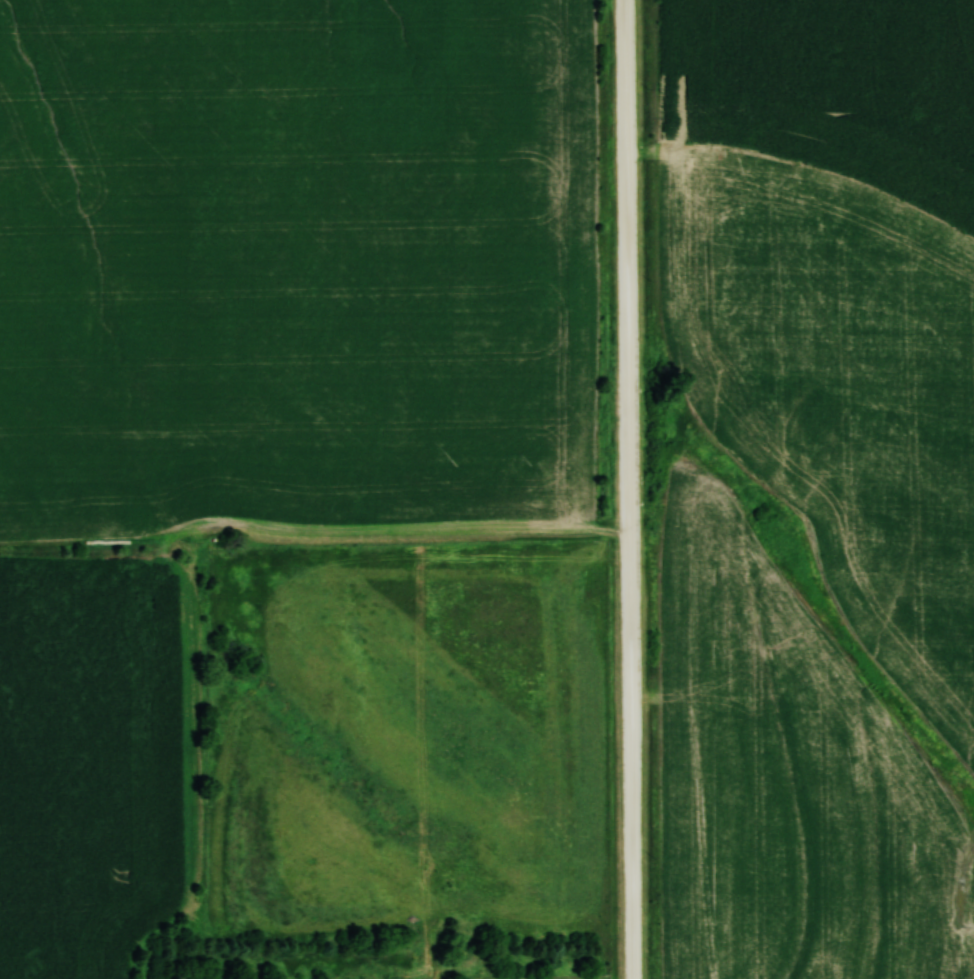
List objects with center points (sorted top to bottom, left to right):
road: (629, 489)

